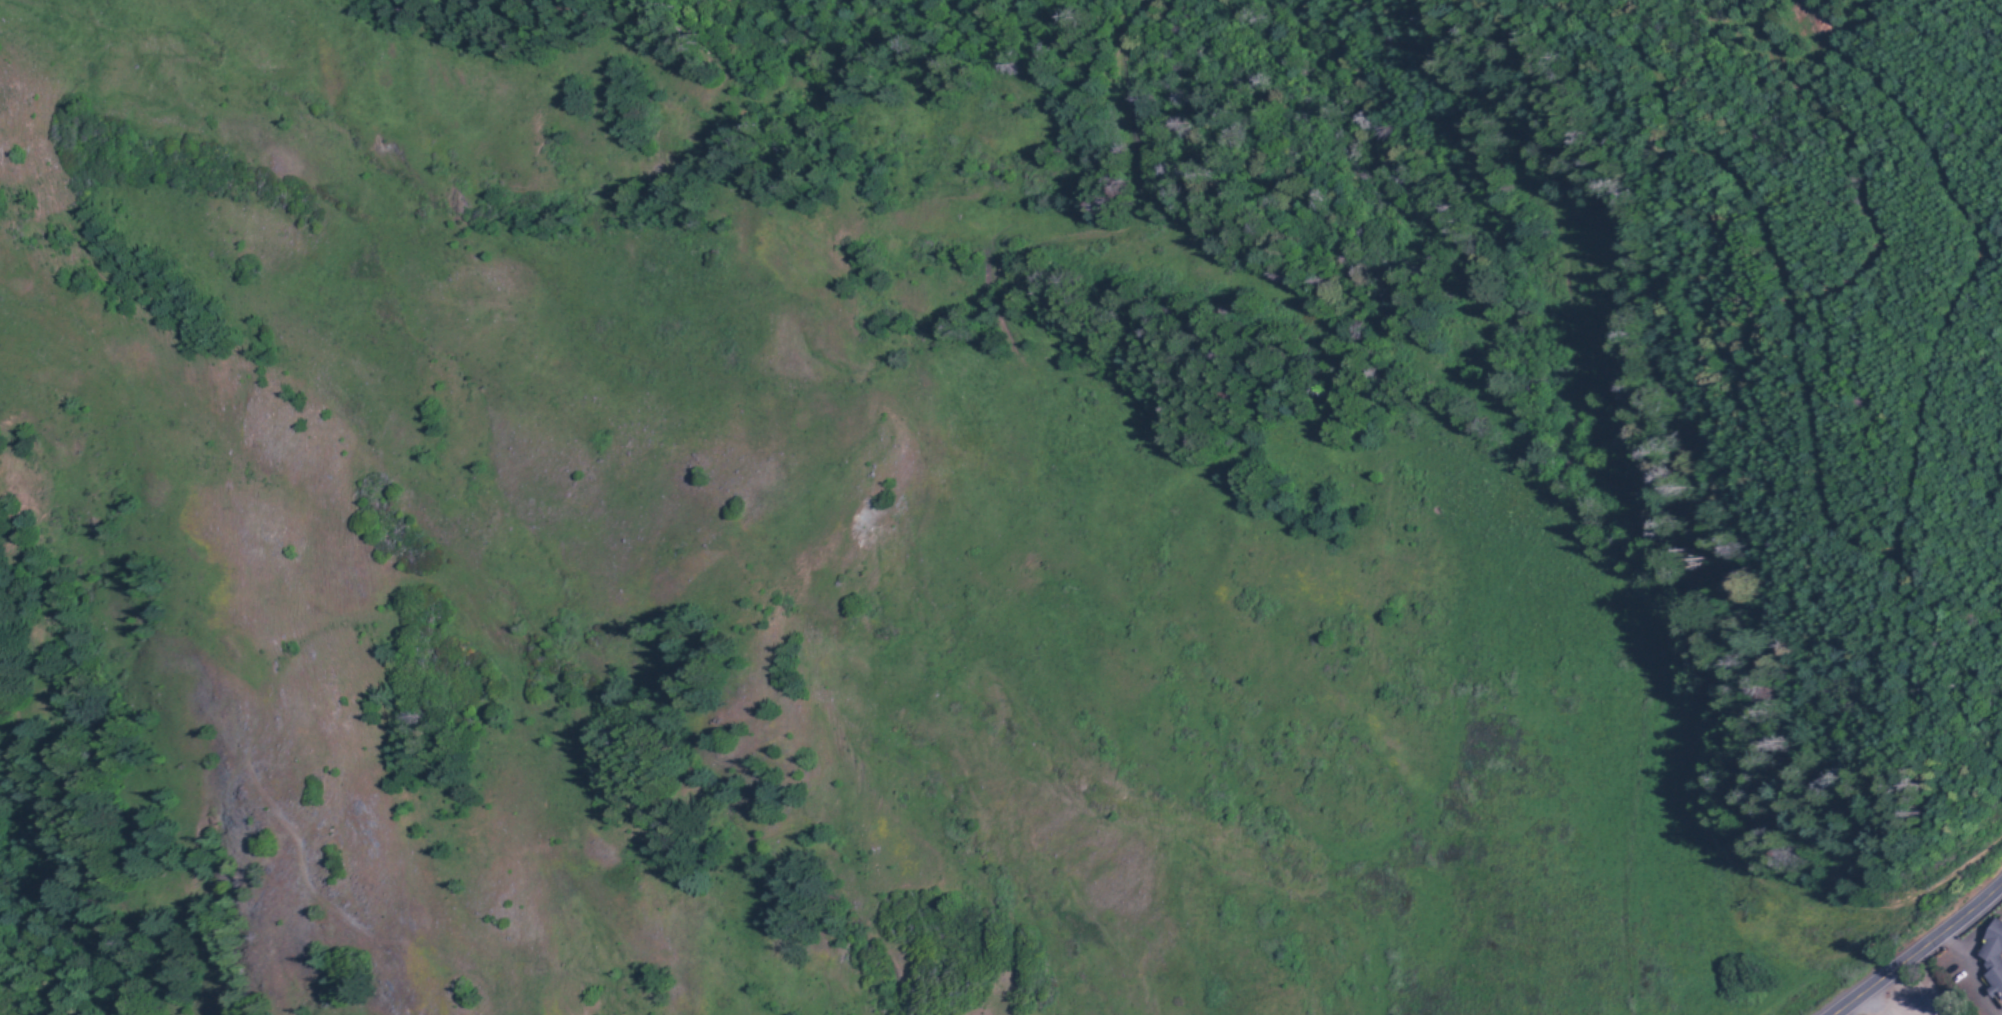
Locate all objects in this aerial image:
road: (1919, 952)
building: (1993, 957)

